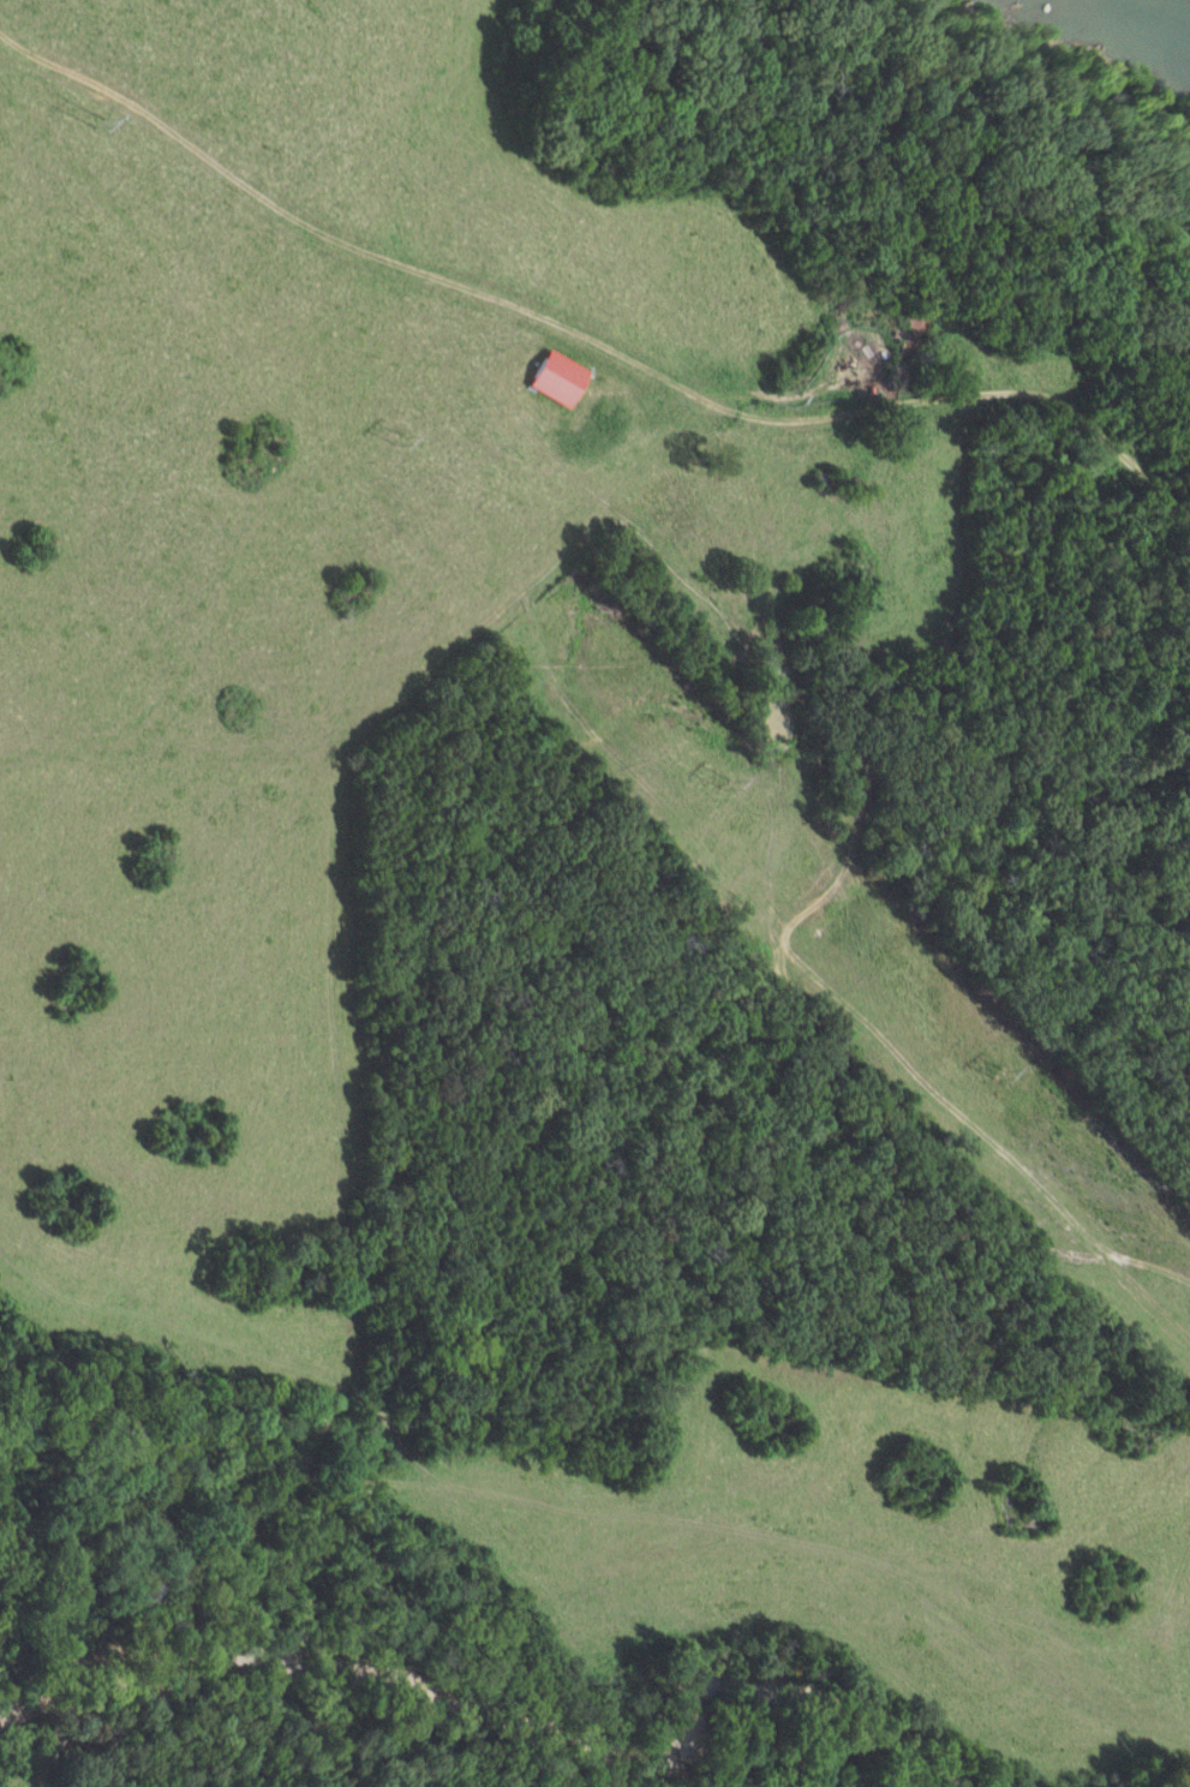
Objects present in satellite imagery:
power tower: (95, 125)
road: (593, 341)
building: (550, 378)
power tower: (401, 446)
power tower: (723, 787)
road: (330, 1002)
power tower: (993, 1074)

